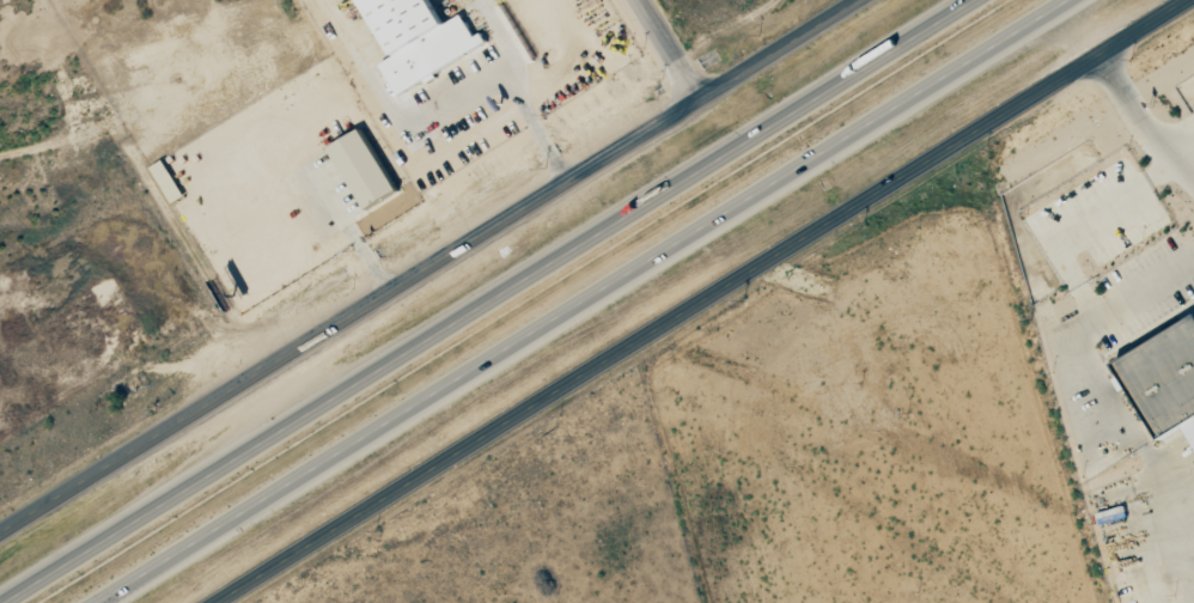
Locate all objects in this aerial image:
building: (418, 39)
road: (665, 49)
road: (518, 91)
road: (1139, 124)
building: (361, 169)
road: (428, 264)
road: (485, 300)
road: (702, 300)
road: (580, 301)
road: (1085, 323)
building: (1165, 377)
road: (1165, 483)

